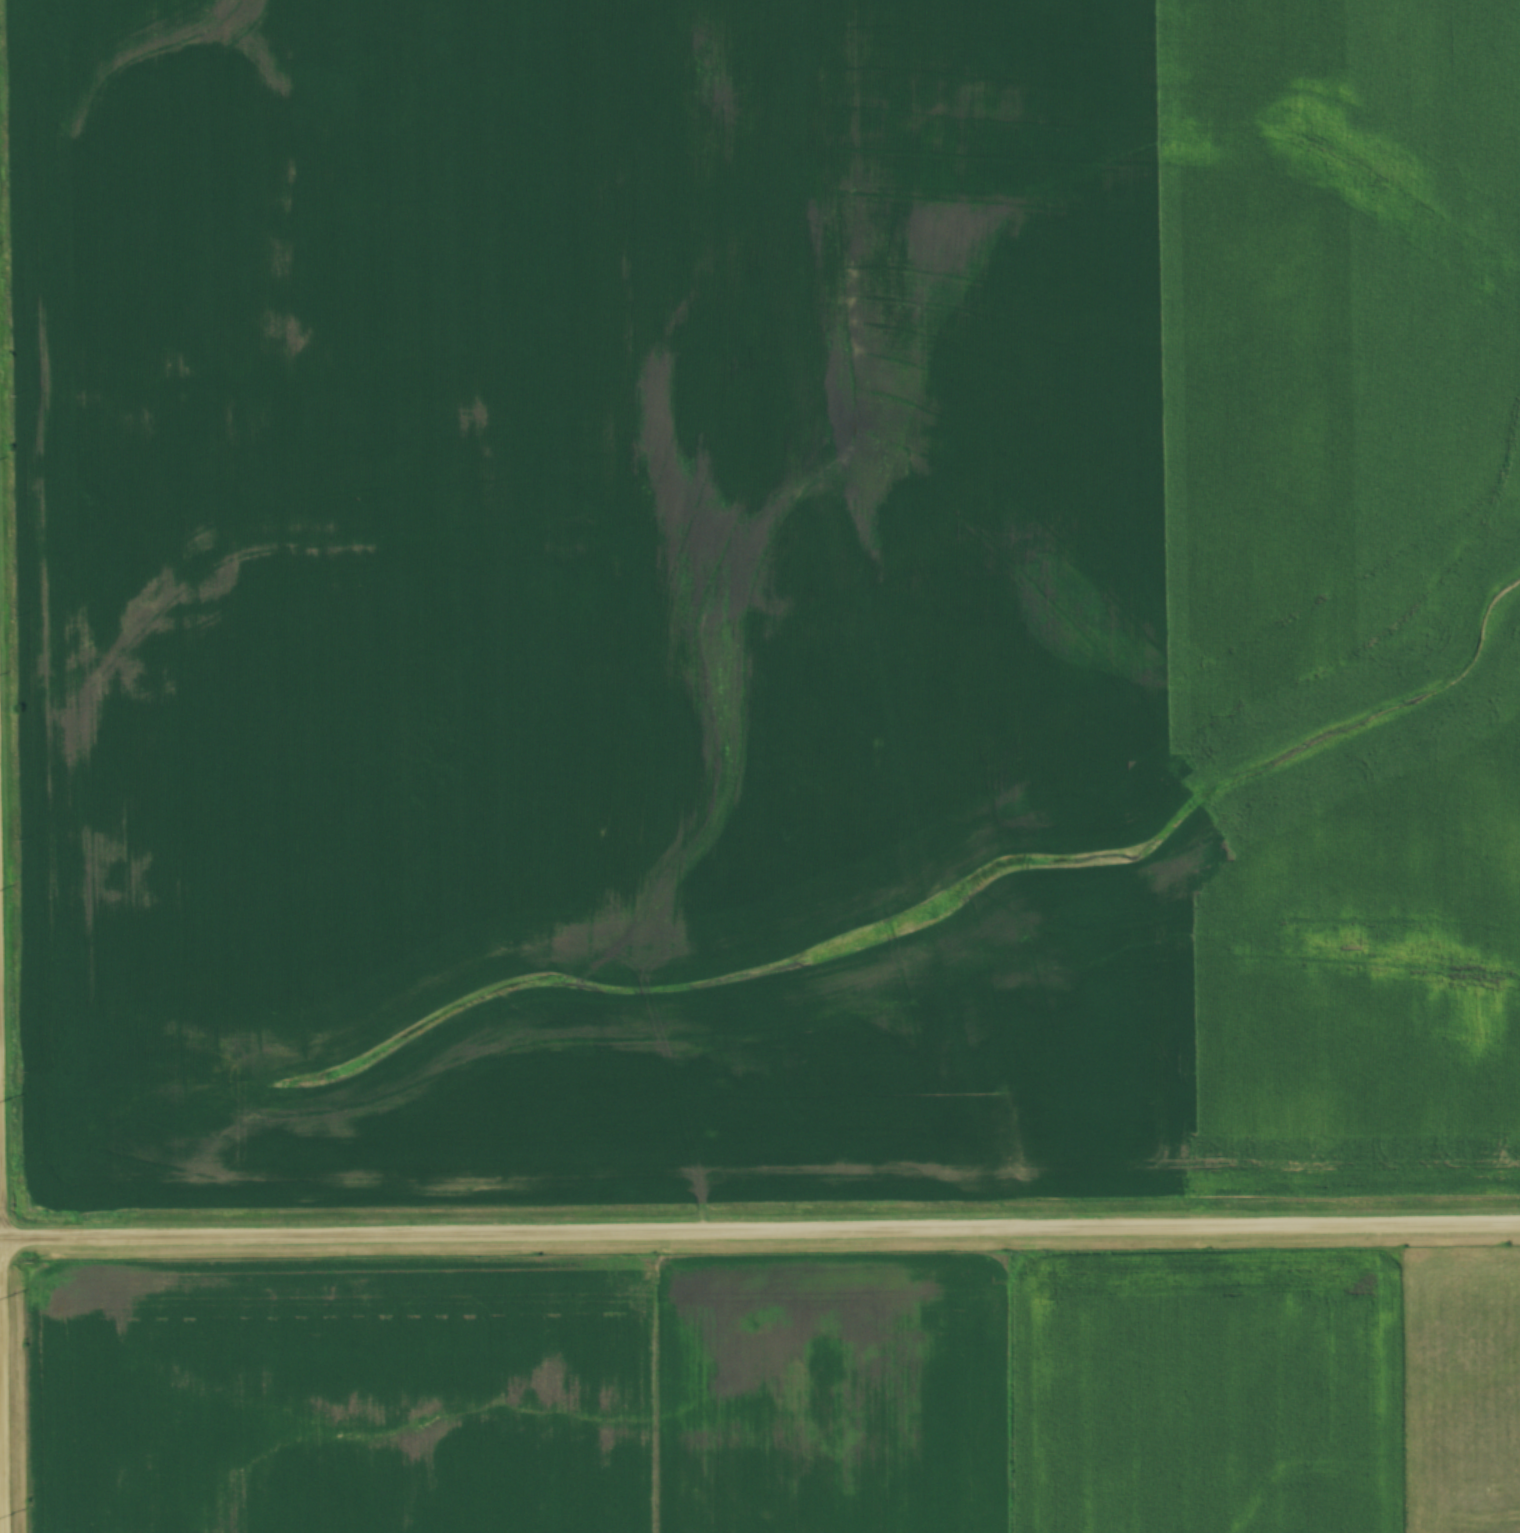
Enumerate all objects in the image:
road: (760, 1232)

